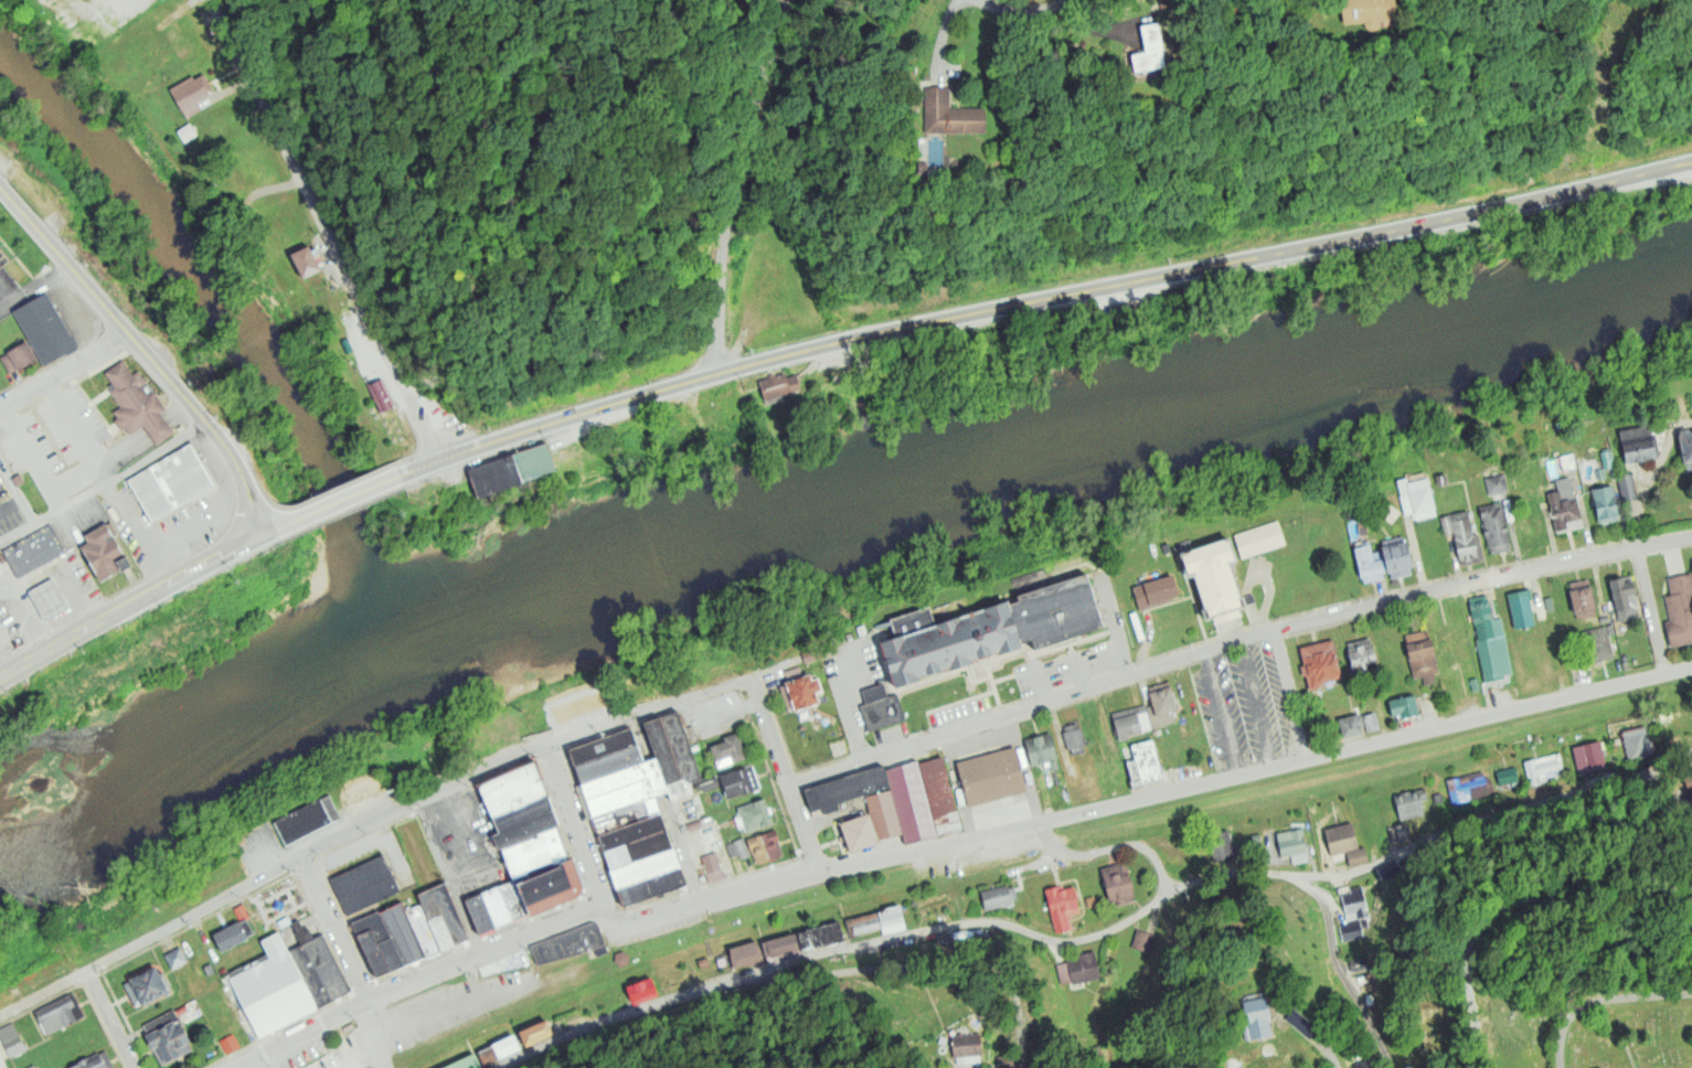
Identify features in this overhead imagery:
road: (1031, 12)
building: (1377, 12)
building: (1148, 49)
building: (1159, 53)
building: (190, 94)
building: (959, 117)
building: (187, 133)
road: (727, 185)
road: (321, 229)
building: (306, 264)
road: (33, 286)
road: (7, 290)
road: (1060, 292)
road: (73, 313)
building: (44, 329)
road: (145, 353)
building: (17, 359)
road: (64, 370)
building: (775, 387)
building: (380, 394)
building: (130, 399)
road: (75, 431)
road: (141, 436)
building: (1637, 445)
building: (1688, 447)
road: (30, 457)
building: (536, 466)
road: (418, 468)
building: (497, 479)
building: (1441, 480)
road: (103, 483)
building: (171, 483)
building: (1496, 484)
river: (819, 485)
building: (1627, 487)
road: (352, 495)
building: (1416, 498)
building: (1604, 502)
building: (1564, 505)
road: (135, 506)
road: (190, 521)
road: (283, 524)
building: (1496, 528)
building: (1462, 537)
building: (1258, 541)
building: (32, 552)
building: (106, 555)
building: (1397, 559)
road: (206, 565)
building: (1368, 565)
road: (160, 566)
building: (1217, 574)
road: (1479, 584)
building: (1156, 591)
building: (1621, 594)
building: (49, 598)
building: (1584, 599)
building: (1525, 608)
road: (1649, 610)
building: (1679, 610)
building: (993, 629)
road: (76, 638)
building: (1490, 641)
building: (1597, 644)
building: (1452, 647)
building: (1420, 654)
building: (1362, 656)
building: (1319, 663)
road: (6, 664)
building: (806, 692)
road: (1284, 696)
building: (588, 706)
building: (1162, 707)
building: (1403, 707)
building: (880, 708)
road: (1029, 709)
road: (1494, 712)
building: (560, 717)
building: (1130, 723)
building: (1371, 723)
building: (1350, 727)
road: (768, 730)
building: (502, 737)
building: (1073, 739)
building: (1636, 740)
building: (488, 745)
building: (604, 746)
building: (683, 747)
building: (730, 749)
building: (1041, 751)
building: (1593, 758)
building: (669, 759)
building: (611, 763)
building: (1142, 763)
building: (1539, 771)
building: (1109, 775)
building: (1505, 775)
building: (991, 777)
building: (404, 779)
building: (616, 780)
building: (1688, 780)
building: (738, 783)
building: (363, 789)
building: (517, 789)
building: (848, 790)
building: (1074, 790)
building: (1468, 790)
building: (940, 795)
building: (622, 797)
building: (912, 803)
building: (1407, 803)
building: (885, 814)
building: (627, 815)
building: (755, 815)
building: (308, 819)
building: (526, 821)
road: (573, 824)
road: (364, 826)
road: (804, 829)
building: (634, 831)
building: (861, 833)
building: (1401, 833)
building: (413, 837)
building: (1221, 846)
building: (736, 847)
building: (765, 847)
building: (1343, 847)
building: (1290, 848)
building: (640, 850)
road: (1106, 852)
building: (535, 854)
building: (1182, 861)
building: (710, 862)
building: (647, 868)
road: (817, 871)
building: (1384, 872)
road: (448, 877)
building: (1117, 884)
building: (364, 886)
building: (552, 887)
building: (653, 887)
building: (996, 899)
building: (497, 908)
building: (1060, 908)
road: (1531, 909)
building: (1353, 915)
building: (443, 916)
building: (891, 919)
building: (861, 925)
building: (424, 929)
road: (333, 931)
building: (403, 932)
road: (1106, 934)
building: (230, 937)
building: (820, 939)
building: (1142, 941)
building: (571, 943)
building: (379, 944)
building: (778, 949)
building: (744, 955)
building: (174, 959)
building: (620, 959)
building: (504, 962)
road: (934, 963)
building: (701, 965)
building: (319, 971)
building: (1077, 971)
road: (1335, 972)
building: (146, 987)
building: (270, 991)
building: (640, 992)
road: (1604, 998)
building: (60, 1013)
building: (1264, 1017)
road: (106, 1021)
building: (1299, 1023)
building: (535, 1035)
park: (1585, 1035)
road: (307, 1036)
road: (371, 1036)
building: (166, 1038)
building: (969, 1044)
building: (13, 1045)
road: (1323, 1049)
building: (498, 1053)
building: (1004, 1060)
building: (1359, 1061)
building: (92, 1062)
building: (464, 1062)
building: (1233, 1062)

